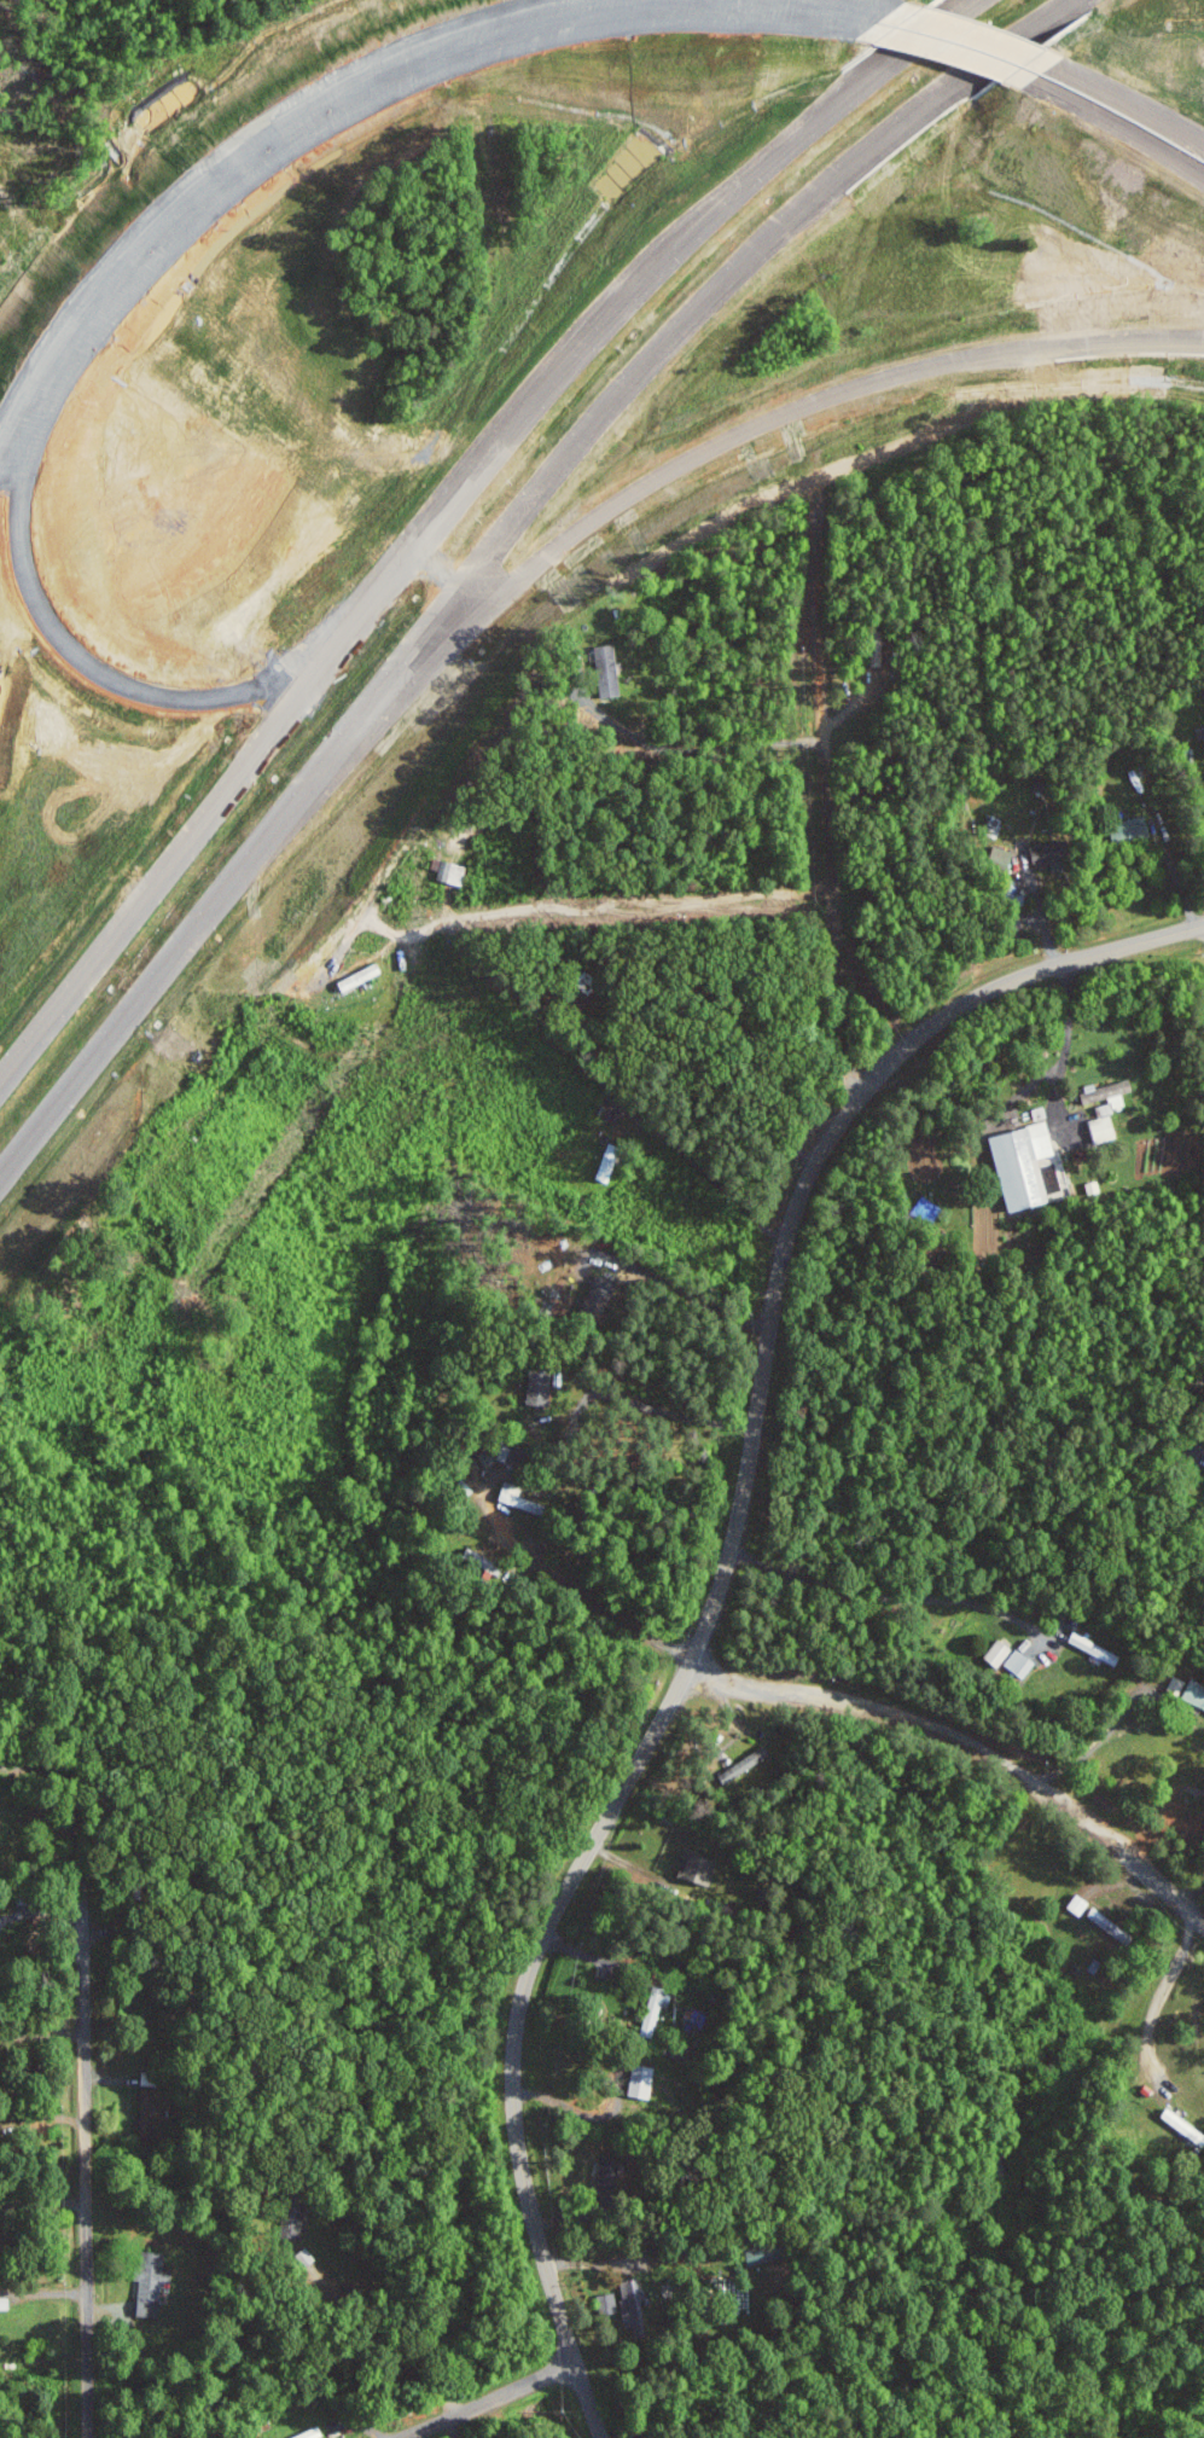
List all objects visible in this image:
road: (879, 4)
road: (973, 30)
road: (948, 48)
road: (421, 75)
road: (1122, 94)
road: (830, 110)
road: (1111, 121)
road: (242, 149)
road: (542, 396)
road: (648, 482)
road: (490, 545)
building: (611, 669)
road: (106, 673)
road: (825, 808)
road: (200, 830)
building: (1132, 830)
building: (1043, 854)
building: (454, 871)
building: (1107, 1108)
building: (609, 1162)
building: (1023, 1163)
road: (711, 1178)
building: (927, 1207)
building: (541, 1385)
road: (640, 1409)
road: (1181, 1414)
building: (523, 1498)
road: (568, 1583)
road: (719, 1587)
road: (891, 1597)
building: (1090, 1647)
building: (999, 1653)
building: (1020, 1662)
building: (1194, 1694)
road: (1101, 1740)
road: (972, 1741)
building: (746, 1764)
road: (75, 1799)
building: (699, 1867)
road: (1162, 1992)
building: (147, 2113)
road: (85, 2167)
building: (609, 2171)
building: (286, 2223)
building: (763, 2252)
building: (152, 2281)
road: (42, 2291)
building: (606, 2303)
building: (630, 2303)
road: (490, 2401)
building: (310, 2433)

